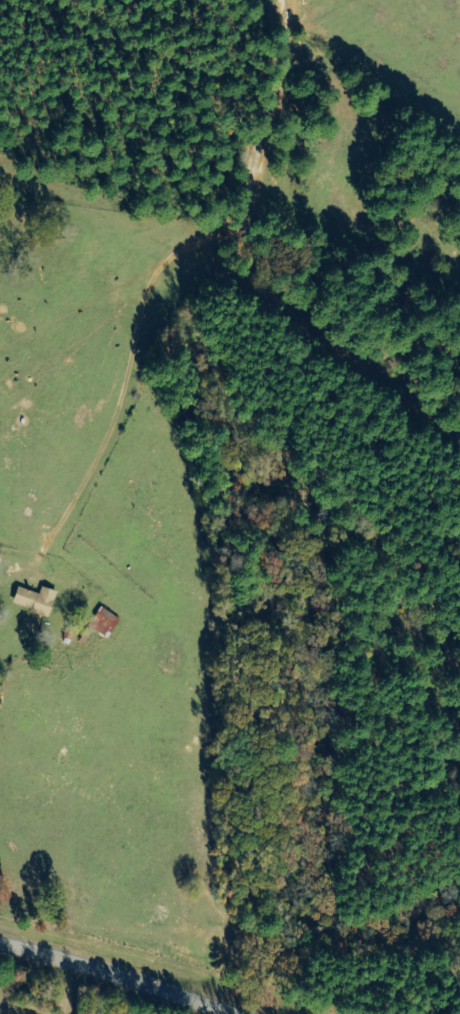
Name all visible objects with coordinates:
building: (37, 600)
building: (105, 622)
road: (119, 974)

